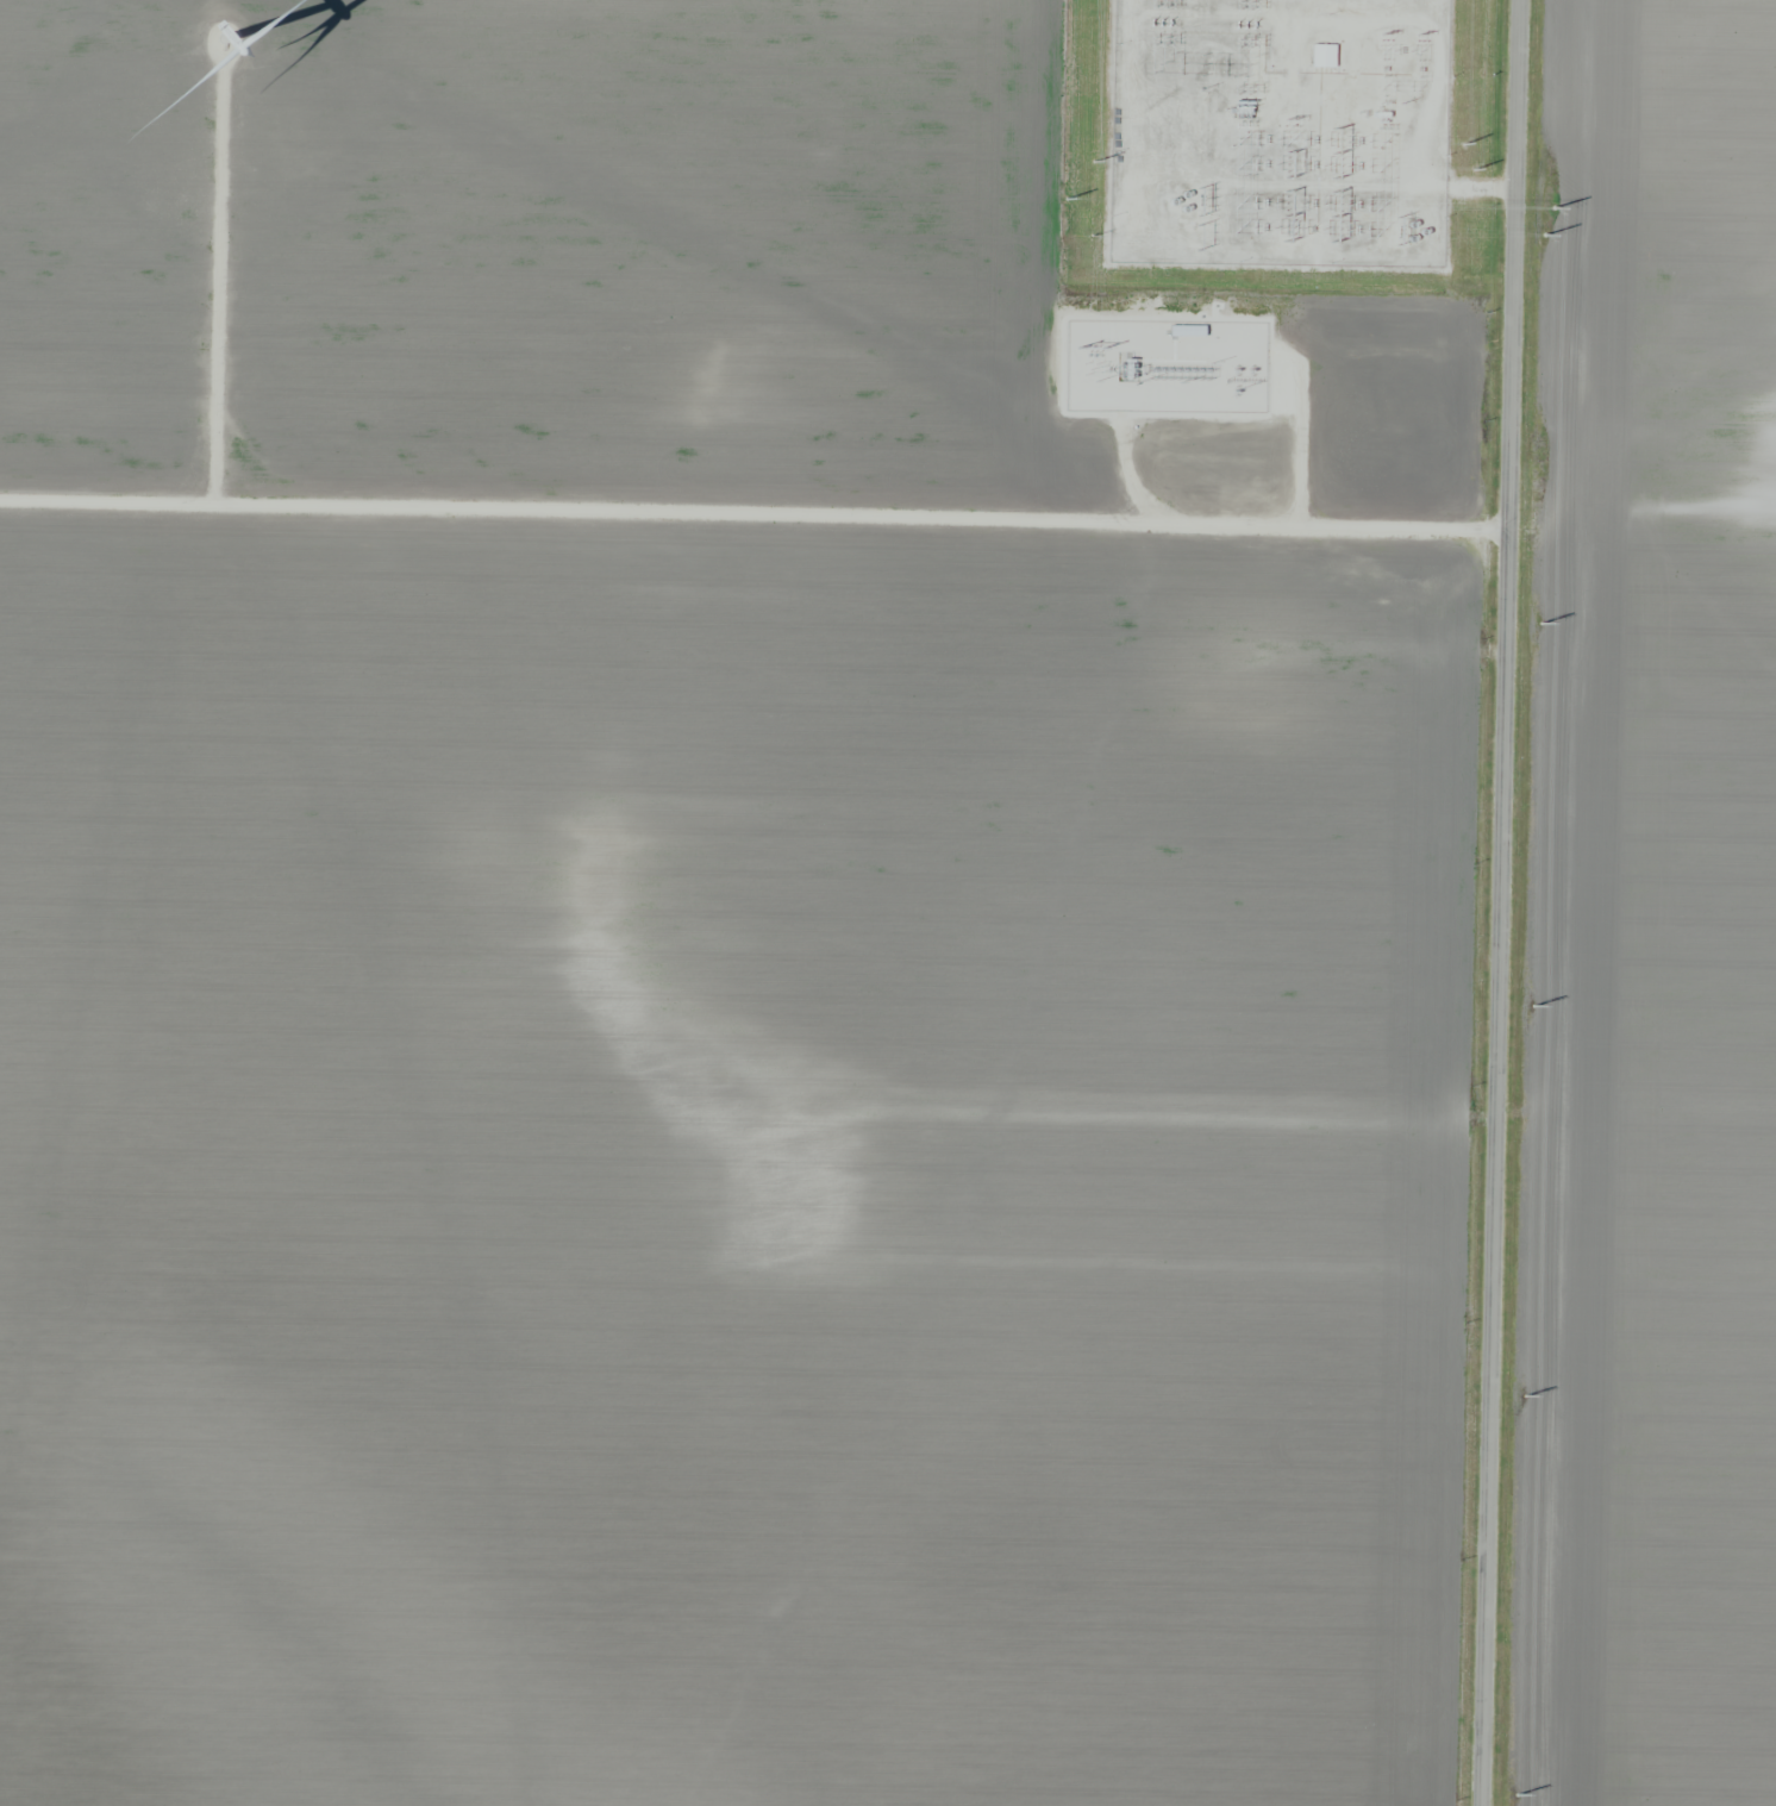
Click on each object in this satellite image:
wind turbine: (229, 31)
power tower: (1383, 35)
power tower: (1419, 36)
building: (1321, 55)
power tower: (1290, 120)
power substation: (1277, 131)
power tower: (1463, 144)
power tower: (1094, 161)
power tower: (1474, 170)
power tower: (1067, 196)
power tower: (1553, 208)
power tower: (1544, 235)
power substation: (1163, 365)
power tower: (1542, 626)
road: (1500, 902)
power tower: (1531, 1007)
power tower: (1525, 1396)
power tower: (1515, 1796)

